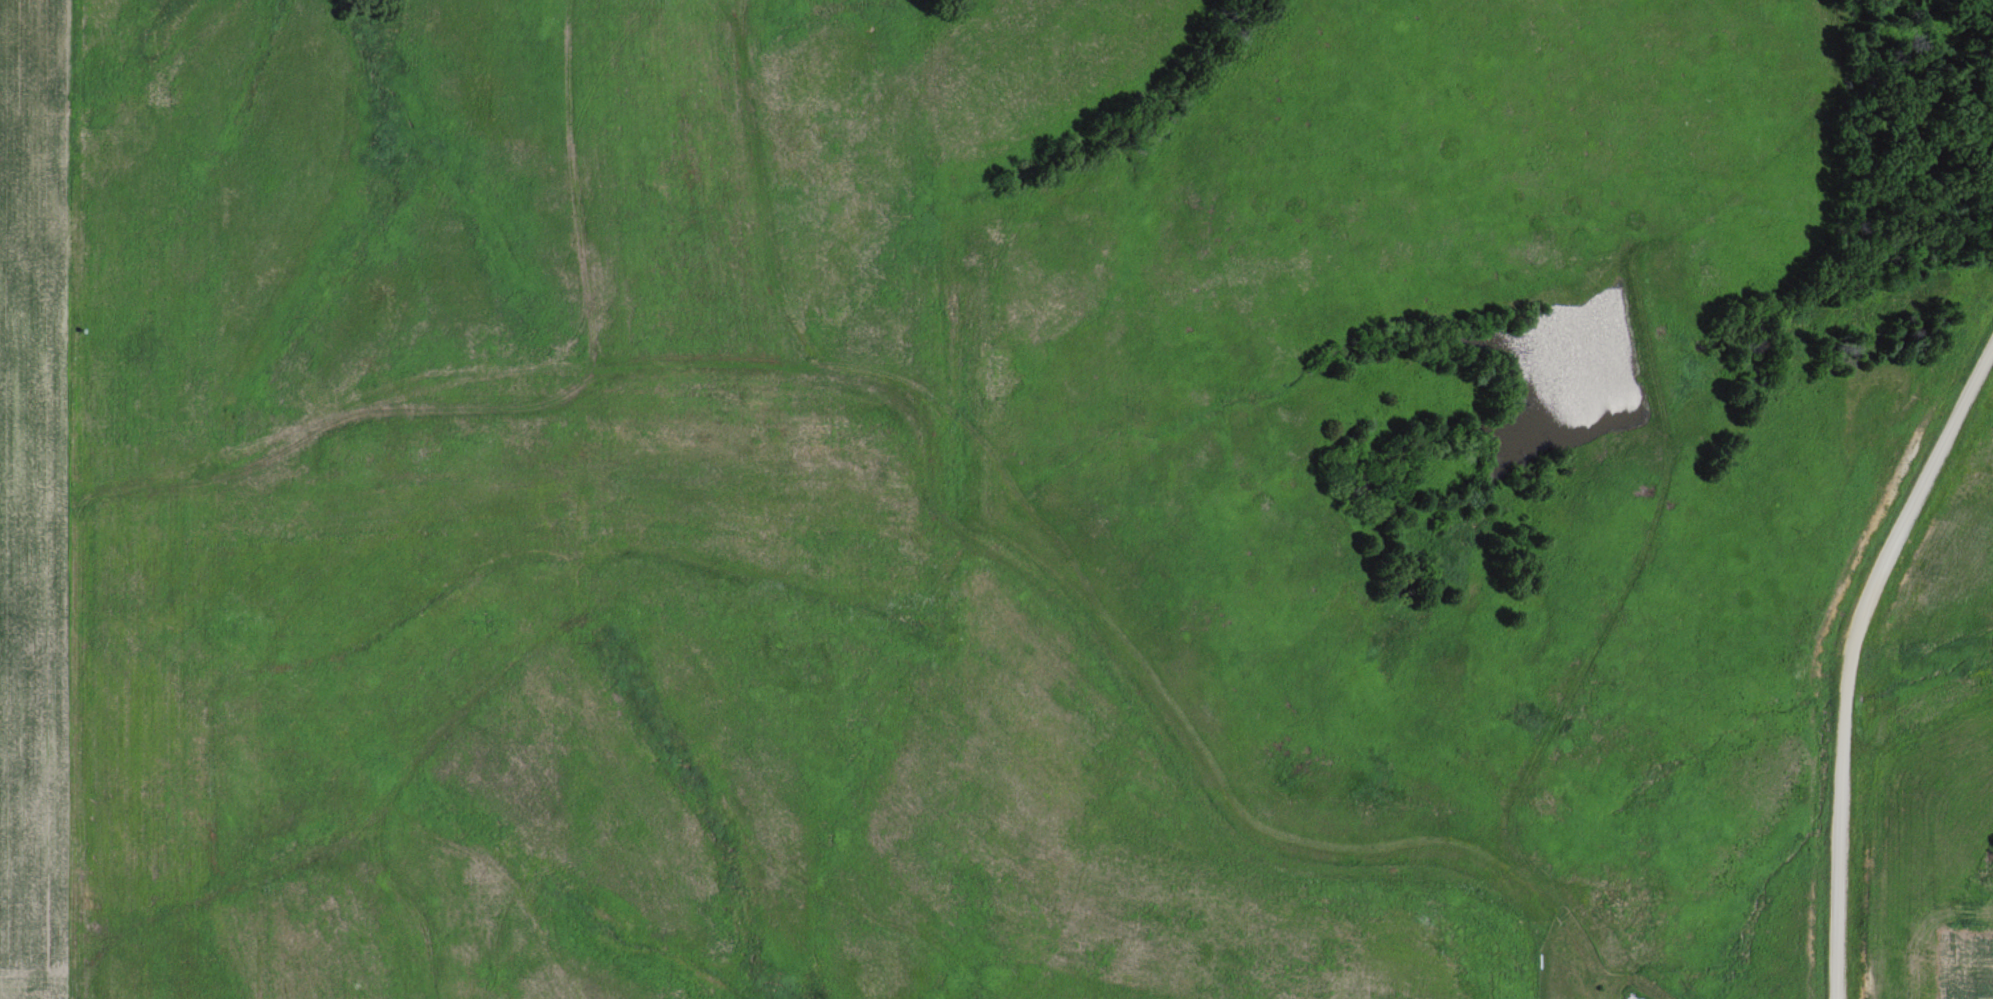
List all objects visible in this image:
road: (1850, 657)

